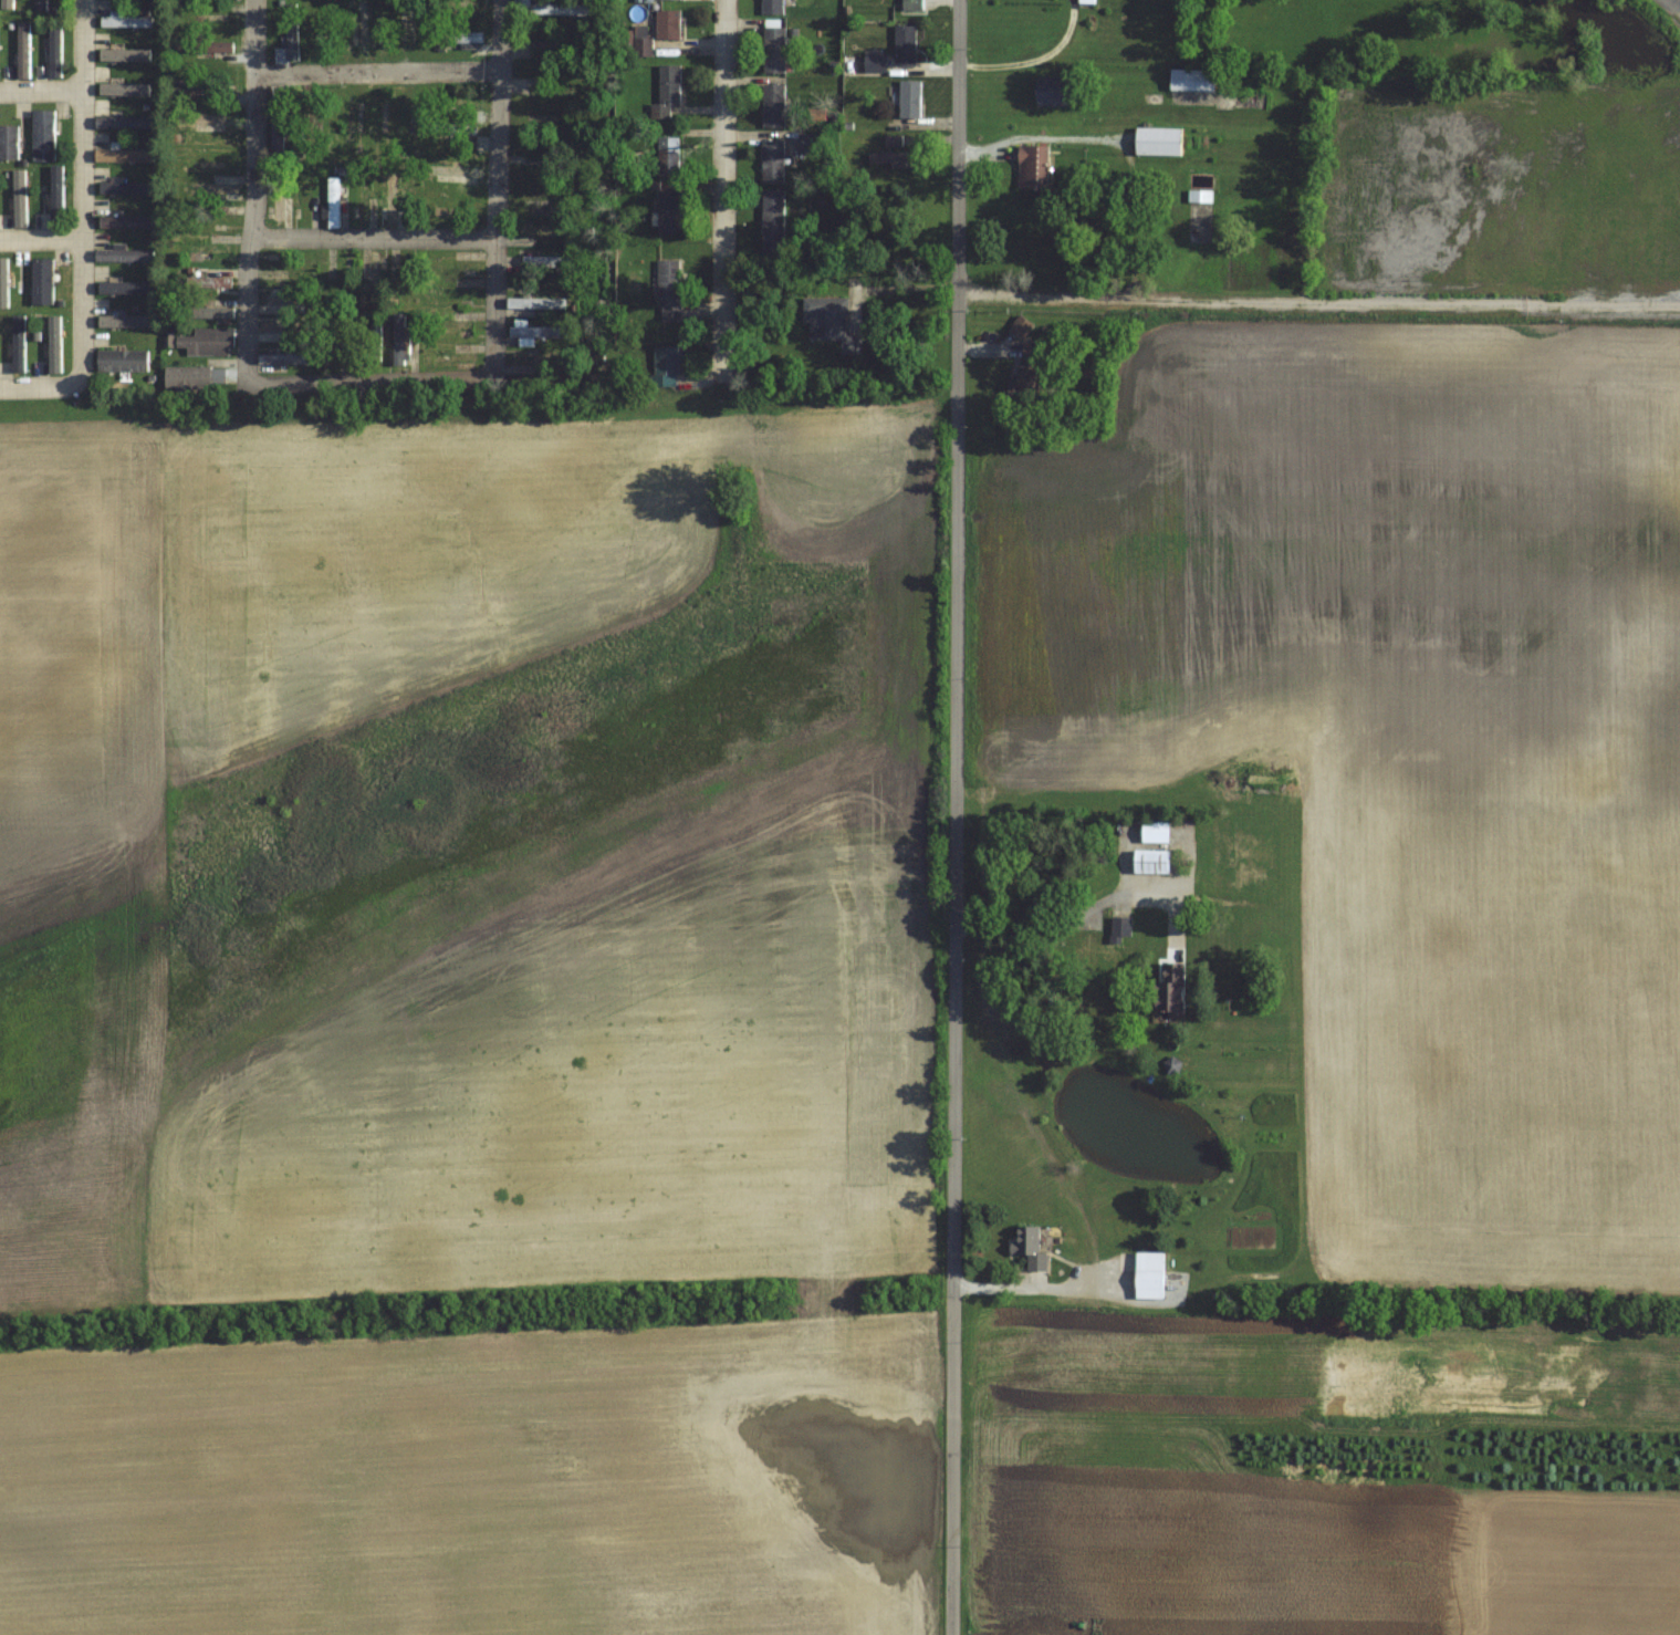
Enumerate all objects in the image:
building: (669, 0)
building: (40, 4)
building: (467, 6)
building: (910, 6)
building: (771, 7)
building: (559, 10)
building: (386, 23)
building: (409, 23)
building: (667, 25)
building: (361, 30)
building: (289, 38)
building: (459, 38)
building: (905, 44)
building: (204, 46)
building: (641, 46)
building: (22, 50)
building: (773, 50)
building: (482, 53)
road: (377, 72)
building: (1192, 80)
building: (200, 85)
building: (668, 85)
road: (42, 90)
building: (1053, 95)
building: (909, 100)
building: (452, 103)
building: (773, 106)
building: (352, 118)
building: (200, 119)
building: (124, 122)
building: (310, 122)
building: (281, 123)
building: (403, 127)
building: (453, 128)
building: (43, 135)
road: (1039, 139)
building: (1159, 140)
building: (9, 142)
building: (893, 142)
building: (123, 155)
building: (668, 157)
building: (528, 160)
building: (894, 160)
building: (773, 162)
building: (1034, 167)
building: (451, 170)
road: (253, 183)
road: (497, 183)
building: (121, 188)
building: (212, 188)
road: (724, 190)
building: (278, 196)
building: (1200, 196)
building: (392, 199)
building: (334, 201)
building: (362, 201)
building: (544, 210)
building: (669, 211)
building: (125, 221)
building: (773, 221)
road: (85, 232)
building: (540, 232)
road: (43, 237)
road: (375, 237)
building: (205, 248)
building: (123, 254)
building: (547, 261)
building: (340, 275)
building: (374, 275)
building: (403, 278)
building: (42, 282)
building: (210, 282)
building: (669, 290)
building: (456, 295)
road: (1319, 296)
building: (279, 302)
building: (535, 302)
building: (212, 313)
building: (831, 323)
building: (452, 325)
building: (280, 333)
building: (540, 333)
building: (207, 341)
building: (375, 341)
building: (399, 341)
building: (283, 358)
building: (451, 358)
building: (123, 361)
building: (554, 363)
building: (667, 366)
building: (1029, 372)
road: (372, 377)
building: (188, 378)
road: (957, 645)
building: (1151, 862)
road: (1027, 925)
building: (1103, 943)
building: (1171, 1065)
building: (1029, 1247)
building: (1148, 1274)
road: (953, 1462)

